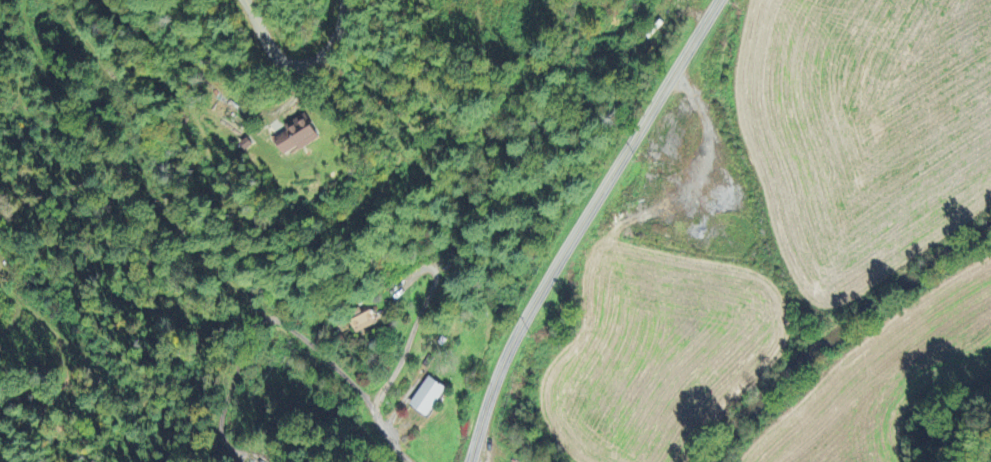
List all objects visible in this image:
road: (303, 64)
building: (299, 133)
road: (582, 225)
road: (204, 254)
building: (429, 394)

